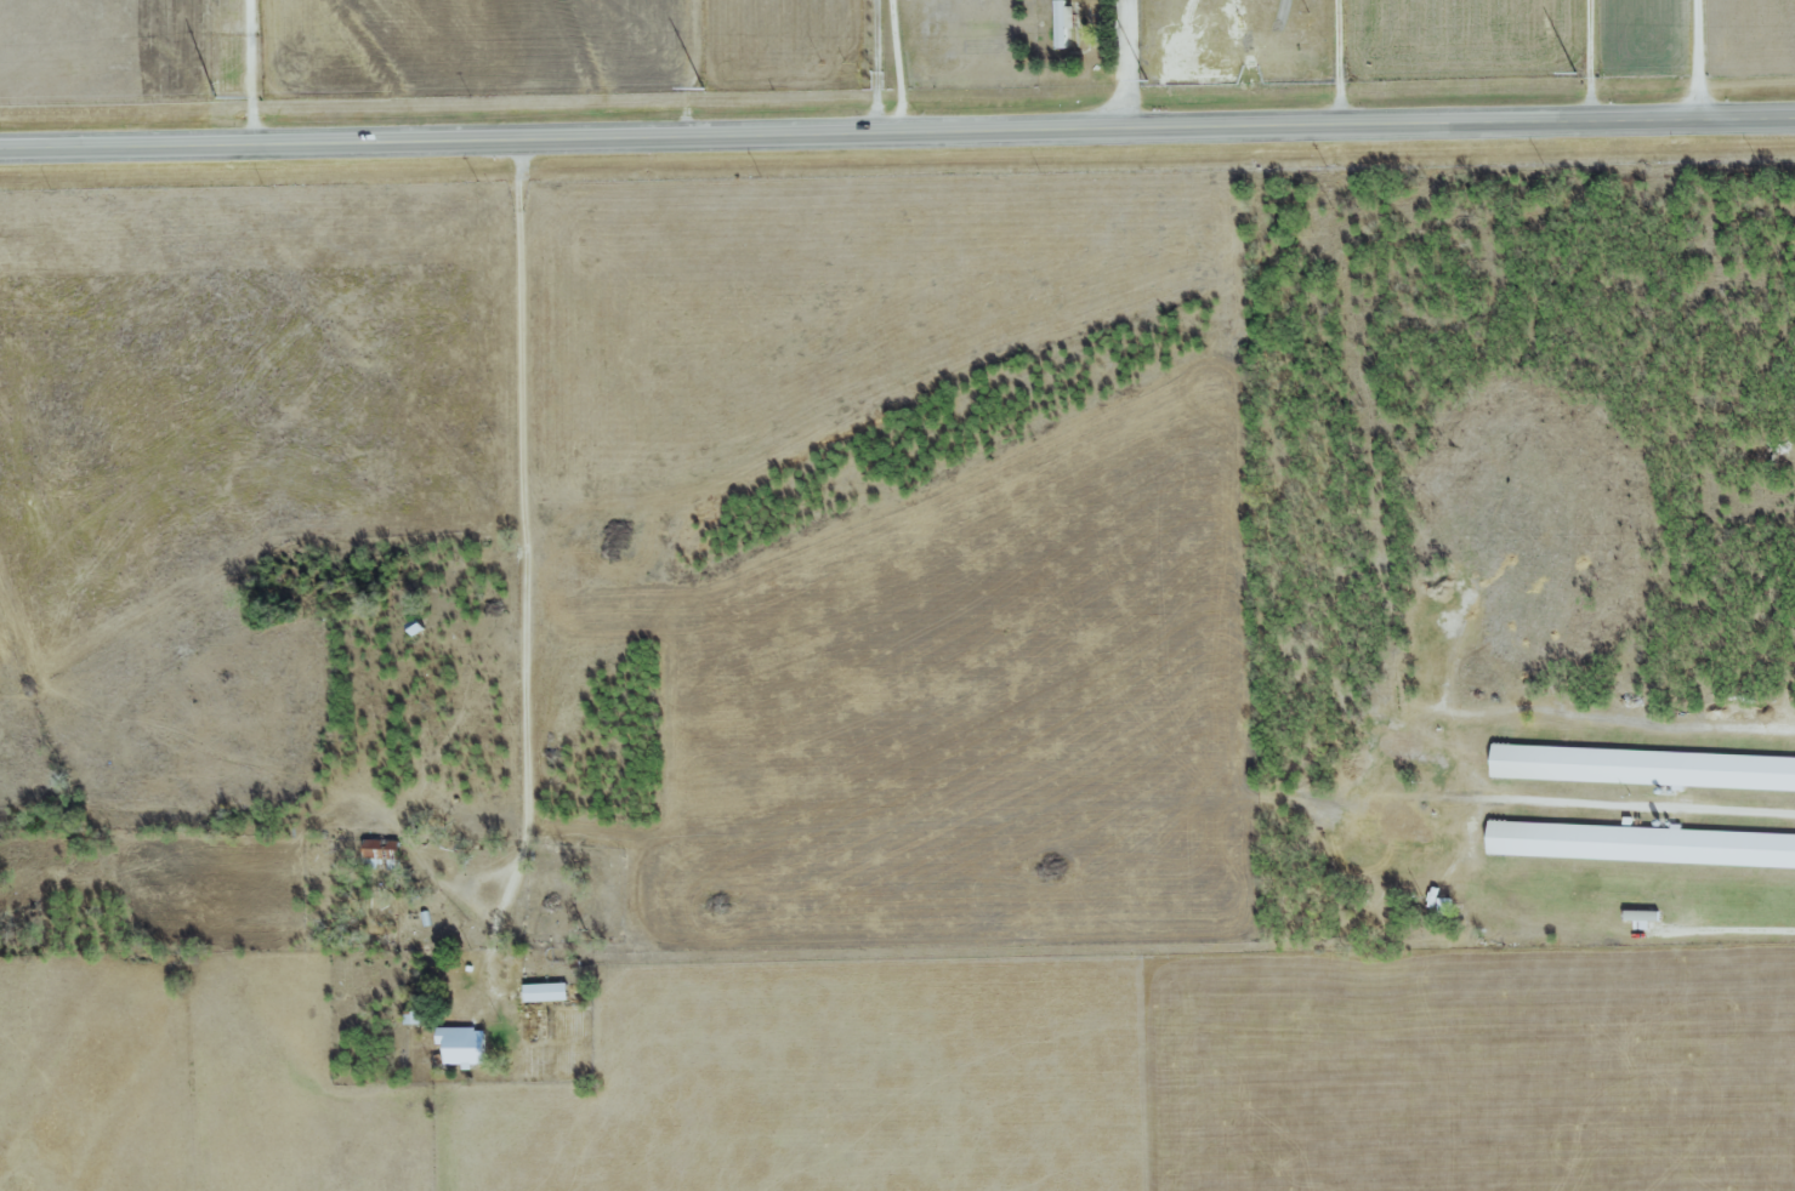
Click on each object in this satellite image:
building: (1064, 22)
road: (1703, 59)
road: (1587, 61)
road: (1354, 63)
road: (1126, 65)
road: (879, 68)
road: (250, 73)
power tower: (1577, 78)
power tower: (1351, 84)
power tower: (1152, 85)
power tower: (708, 93)
power tower: (214, 97)
road: (897, 135)
road: (524, 580)
building: (1645, 767)
building: (1641, 843)
building: (382, 849)
building: (1445, 906)
building: (1642, 916)
road: (1737, 929)
building: (547, 992)
building: (414, 1018)
building: (465, 1044)

